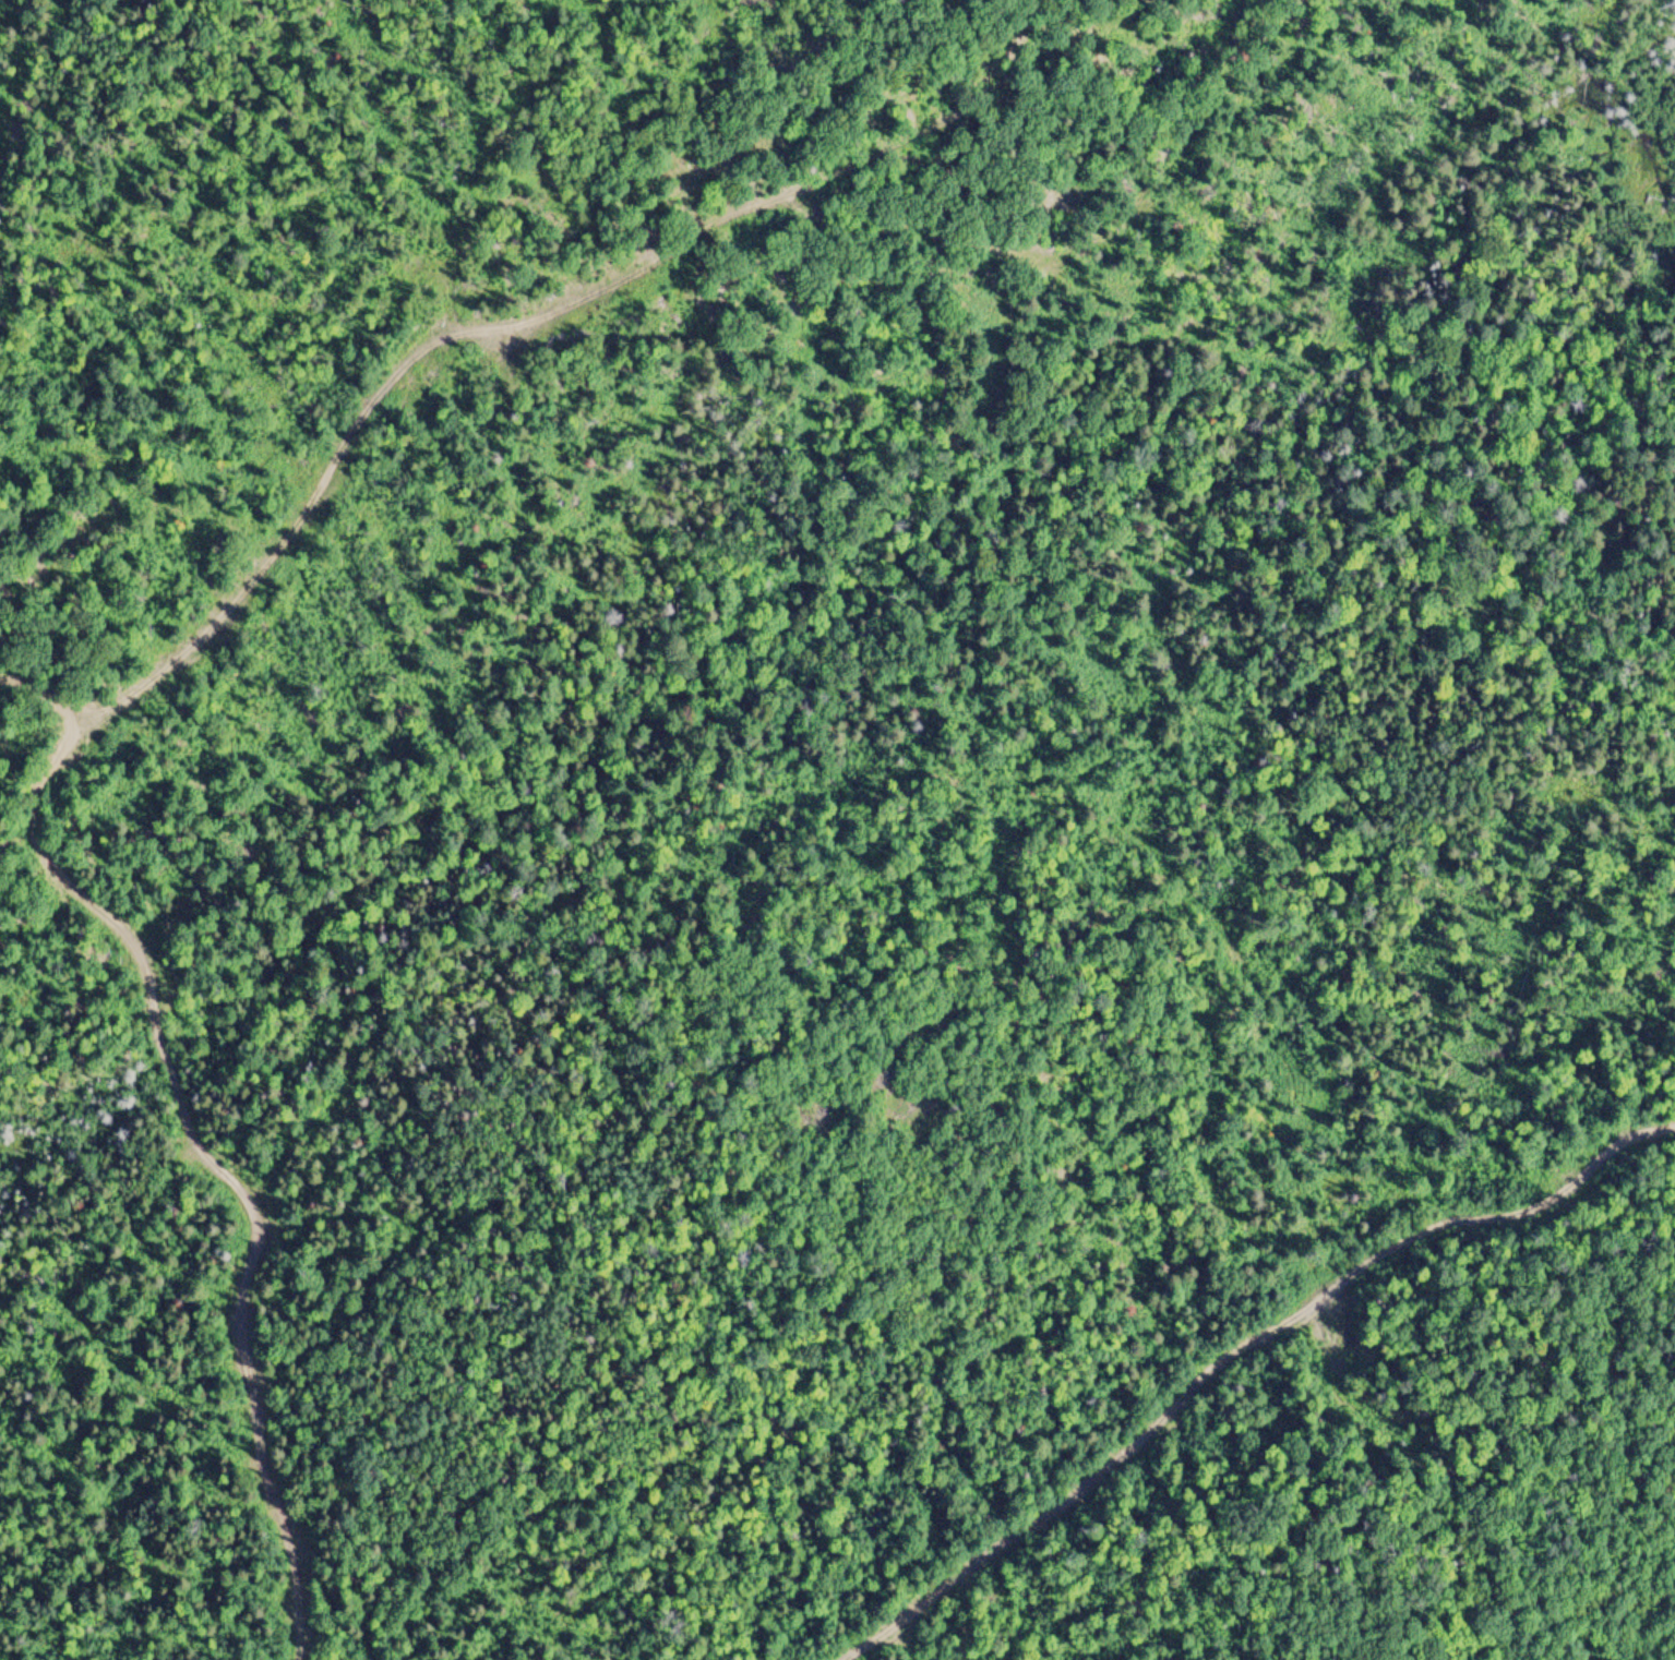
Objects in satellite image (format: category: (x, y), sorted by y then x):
road: (1239, 1348)

